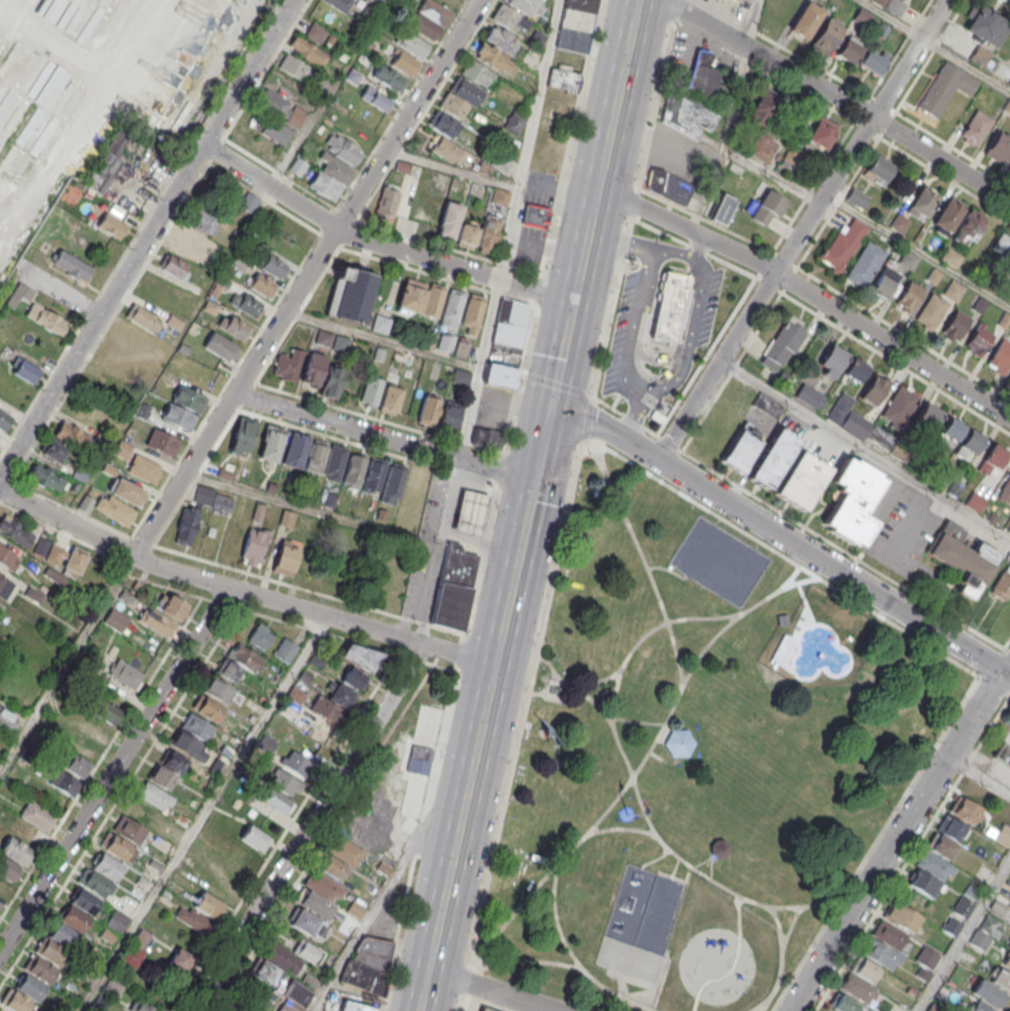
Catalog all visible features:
building: (751, 0)
building: (879, 2)
building: (339, 4)
building: (521, 5)
building: (895, 6)
building: (436, 12)
building: (860, 15)
building: (508, 18)
building: (805, 19)
building: (984, 24)
building: (423, 25)
building: (576, 25)
building: (319, 35)
building: (826, 36)
building: (412, 43)
road: (934, 46)
road: (785, 48)
building: (497, 50)
building: (848, 50)
building: (310, 53)
building: (979, 56)
building: (872, 61)
building: (403, 62)
building: (293, 66)
building: (1002, 71)
building: (477, 73)
building: (702, 75)
building: (387, 78)
building: (564, 79)
building: (944, 87)
road: (329, 92)
building: (461, 97)
road: (840, 97)
building: (374, 98)
building: (282, 108)
road: (890, 108)
building: (763, 109)
building: (687, 116)
building: (443, 123)
building: (514, 123)
building: (975, 128)
building: (276, 130)
building: (821, 133)
road: (528, 139)
building: (997, 147)
building: (761, 149)
building: (343, 150)
building: (447, 150)
road: (605, 150)
road: (727, 150)
building: (501, 155)
building: (1009, 164)
road: (453, 168)
building: (337, 169)
building: (878, 170)
building: (325, 185)
building: (669, 186)
building: (500, 196)
building: (856, 199)
building: (245, 200)
building: (921, 202)
building: (386, 204)
building: (722, 208)
building: (767, 208)
building: (948, 214)
building: (534, 215)
building: (427, 219)
building: (449, 220)
building: (204, 221)
building: (899, 223)
building: (111, 224)
building: (968, 227)
road: (686, 229)
road: (803, 229)
building: (488, 234)
building: (467, 235)
road: (147, 238)
road: (621, 242)
building: (196, 243)
building: (844, 244)
road: (379, 245)
building: (1002, 245)
road: (696, 247)
road: (918, 250)
building: (950, 257)
building: (907, 261)
building: (71, 265)
building: (274, 266)
building: (865, 266)
building: (175, 267)
road: (700, 268)
road: (307, 277)
building: (884, 282)
building: (260, 284)
road: (783, 287)
building: (952, 291)
road: (59, 292)
building: (350, 294)
building: (908, 295)
building: (411, 296)
building: (434, 301)
building: (245, 303)
building: (670, 306)
building: (452, 308)
building: (931, 311)
building: (472, 314)
building: (143, 318)
building: (46, 319)
building: (380, 323)
road: (490, 324)
building: (955, 324)
building: (510, 325)
building: (232, 326)
road: (634, 327)
building: (978, 340)
building: (446, 343)
building: (783, 344)
road: (892, 345)
building: (220, 346)
building: (462, 348)
road: (428, 353)
road: (561, 353)
building: (1000, 355)
building: (830, 361)
building: (287, 364)
building: (24, 369)
building: (312, 369)
building: (855, 370)
building: (500, 376)
building: (1009, 376)
building: (461, 377)
building: (332, 382)
road: (666, 387)
building: (371, 390)
building: (874, 390)
building: (188, 399)
building: (390, 399)
traffic signals: (551, 406)
building: (899, 407)
building: (429, 410)
building: (449, 416)
building: (928, 416)
building: (178, 417)
road: (632, 418)
building: (3, 420)
building: (855, 424)
building: (952, 429)
road: (607, 430)
building: (72, 433)
building: (243, 436)
road: (383, 438)
building: (486, 438)
building: (162, 442)
building: (269, 443)
building: (969, 443)
road: (542, 444)
building: (743, 448)
building: (123, 449)
building: (53, 450)
road: (865, 450)
building: (296, 451)
building: (315, 457)
building: (773, 457)
building: (992, 458)
building: (334, 463)
building: (144, 468)
building: (354, 469)
building: (374, 474)
building: (46, 478)
building: (800, 480)
building: (392, 484)
road: (573, 487)
building: (1005, 490)
road: (435, 500)
building: (116, 501)
building: (852, 501)
building: (470, 516)
building: (287, 518)
road: (352, 522)
building: (186, 528)
building: (16, 531)
building: (254, 547)
building: (48, 550)
building: (8, 558)
building: (285, 558)
building: (962, 558)
building: (69, 565)
road: (835, 567)
building: (458, 569)
building: (4, 586)
road: (241, 591)
building: (171, 606)
building: (451, 609)
building: (115, 620)
building: (157, 622)
building: (260, 636)
road: (1005, 646)
building: (285, 650)
building: (360, 656)
building: (239, 662)
road: (66, 663)
road: (455, 665)
traffic signals: (1003, 672)
building: (126, 674)
building: (353, 678)
building: (218, 689)
building: (332, 703)
building: (210, 709)
building: (105, 712)
building: (6, 718)
building: (196, 726)
building: (185, 743)
building: (679, 743)
building: (266, 744)
road: (476, 746)
building: (81, 754)
building: (1003, 756)
building: (419, 759)
park: (694, 760)
building: (297, 763)
building: (217, 768)
road: (114, 769)
building: (167, 769)
road: (979, 774)
building: (64, 782)
building: (151, 794)
building: (965, 811)
building: (140, 812)
road: (202, 813)
building: (37, 815)
road: (308, 828)
building: (128, 829)
building: (1003, 835)
road: (899, 836)
building: (255, 838)
building: (118, 848)
building: (15, 849)
building: (719, 849)
building: (938, 857)
building: (339, 860)
building: (107, 866)
road: (391, 876)
building: (97, 884)
building: (85, 901)
building: (0, 902)
building: (0, 905)
building: (208, 905)
building: (963, 907)
building: (310, 915)
building: (74, 919)
building: (193, 919)
building: (116, 920)
building: (986, 932)
building: (64, 935)
building: (891, 936)
building: (143, 937)
road: (963, 937)
building: (53, 952)
building: (134, 955)
building: (927, 958)
building: (181, 961)
building: (281, 961)
building: (369, 964)
building: (42, 969)
building: (860, 980)
building: (30, 987)
road: (488, 990)
building: (988, 993)
building: (297, 994)
building: (257, 998)
building: (842, 1003)
building: (141, 1006)
building: (351, 1006)
building: (976, 1006)
building: (480, 1009)
building: (486, 1009)

